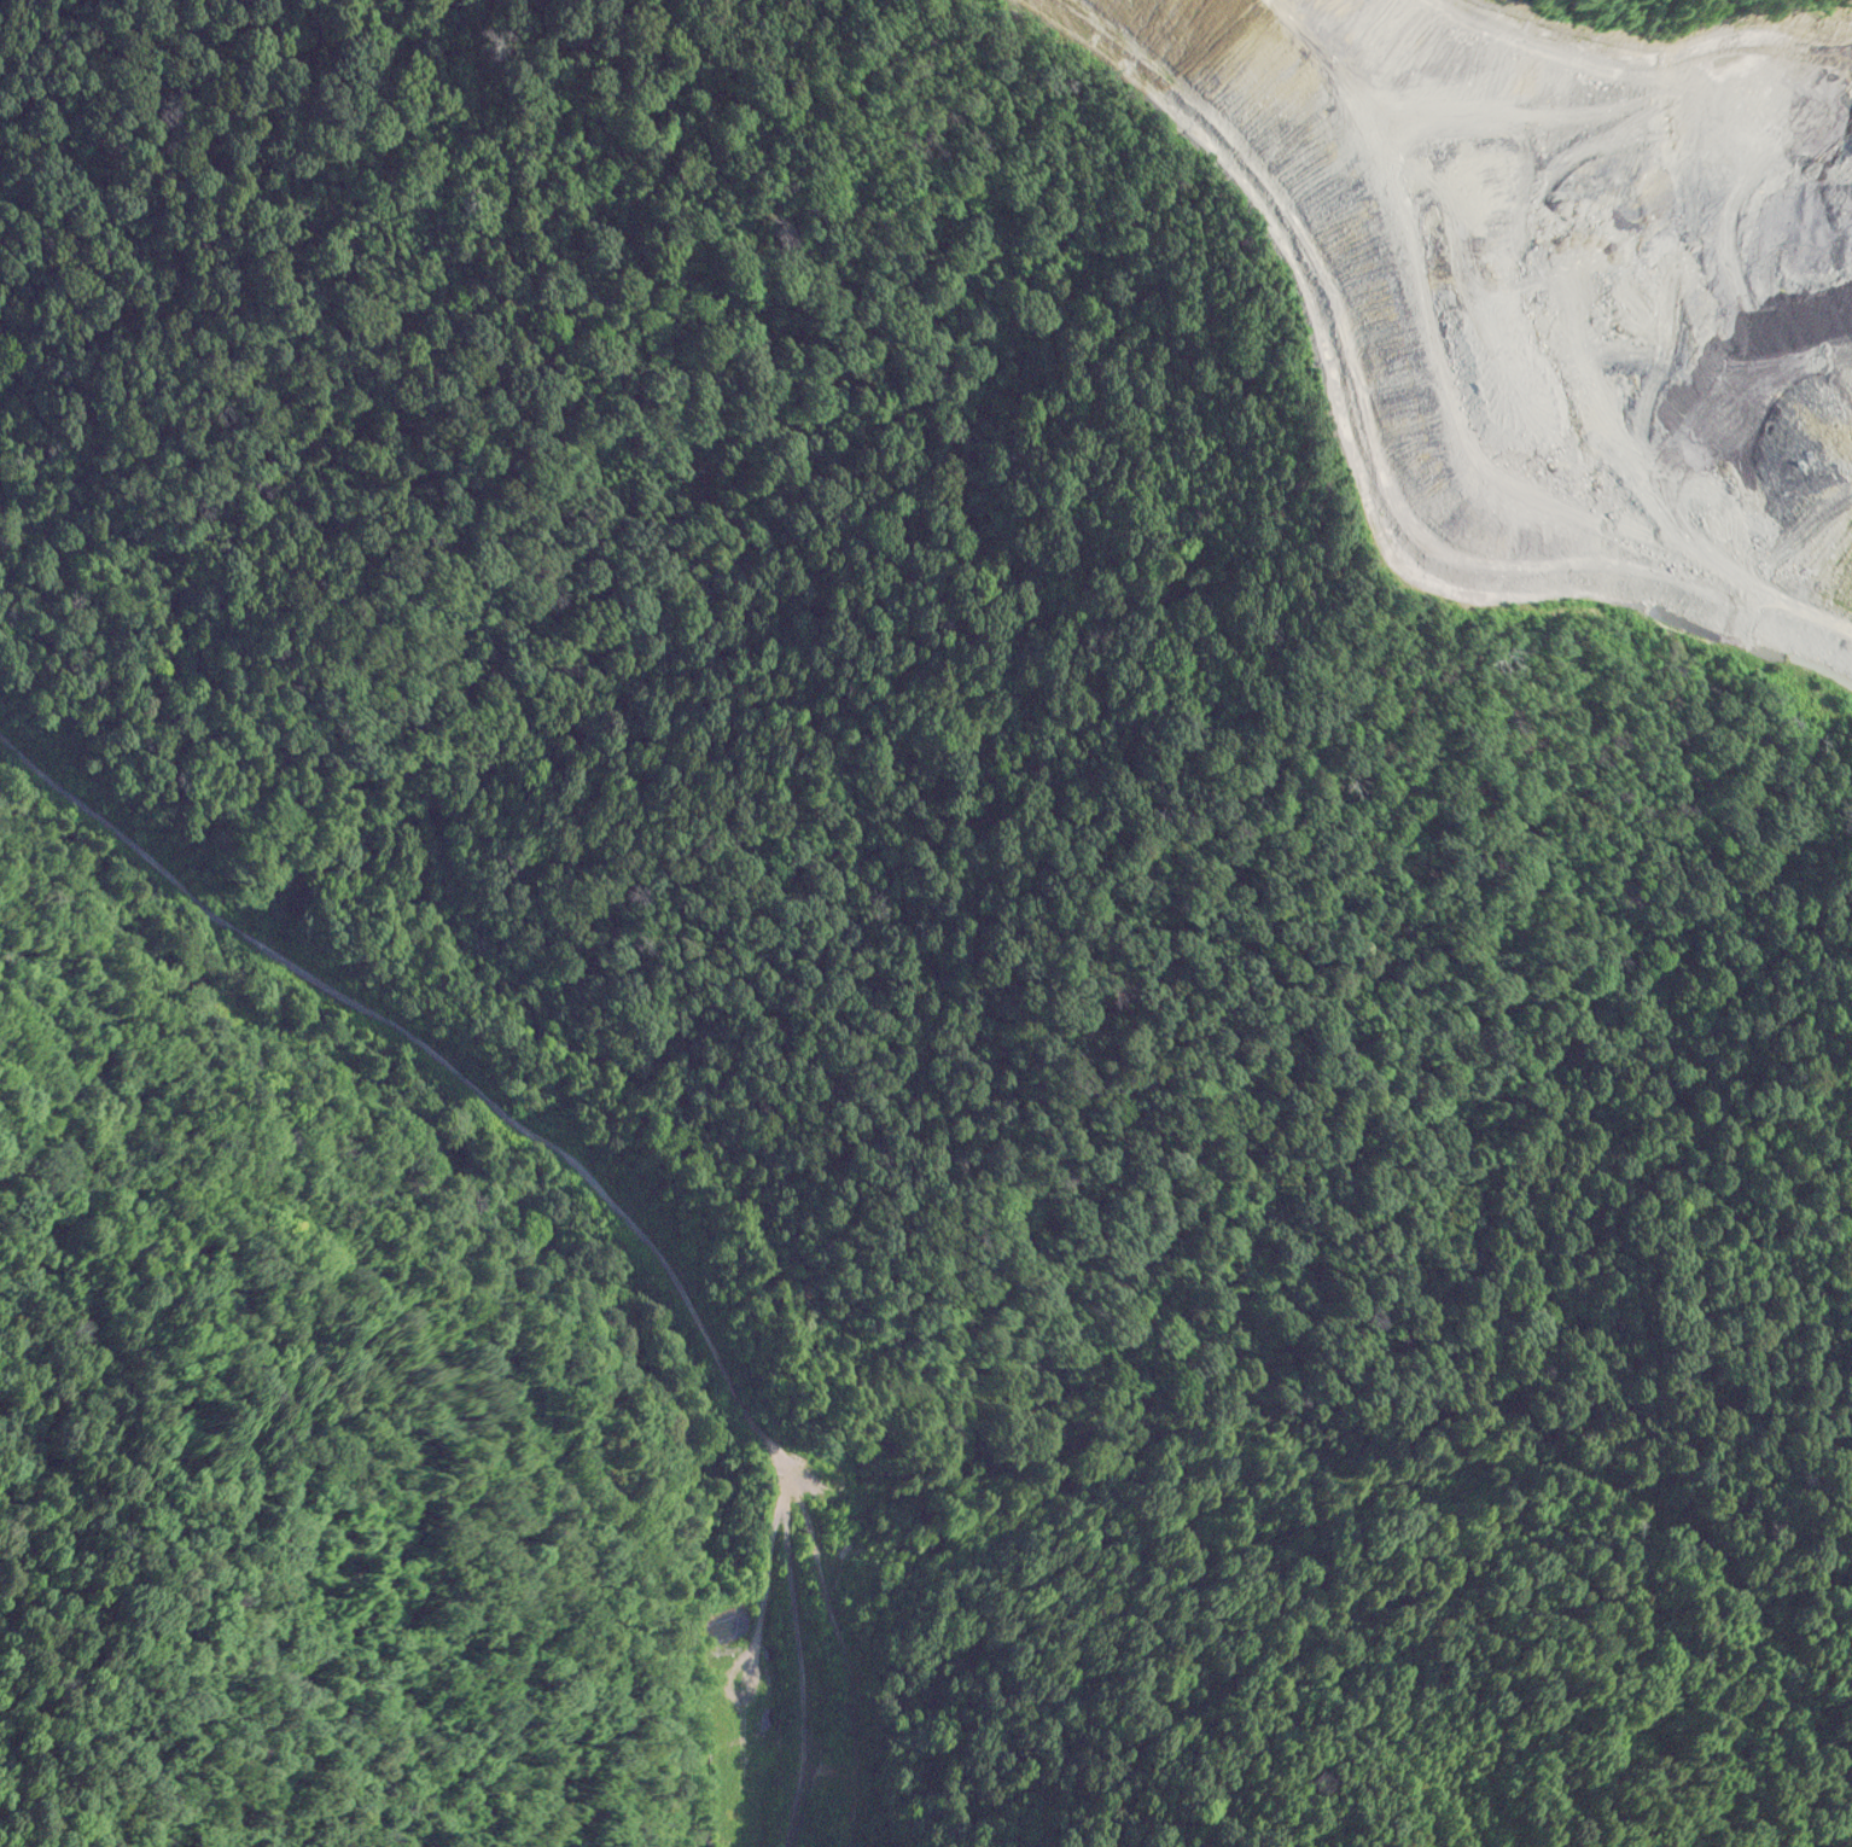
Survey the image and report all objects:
road: (455, 1029)
road: (487, 1220)

